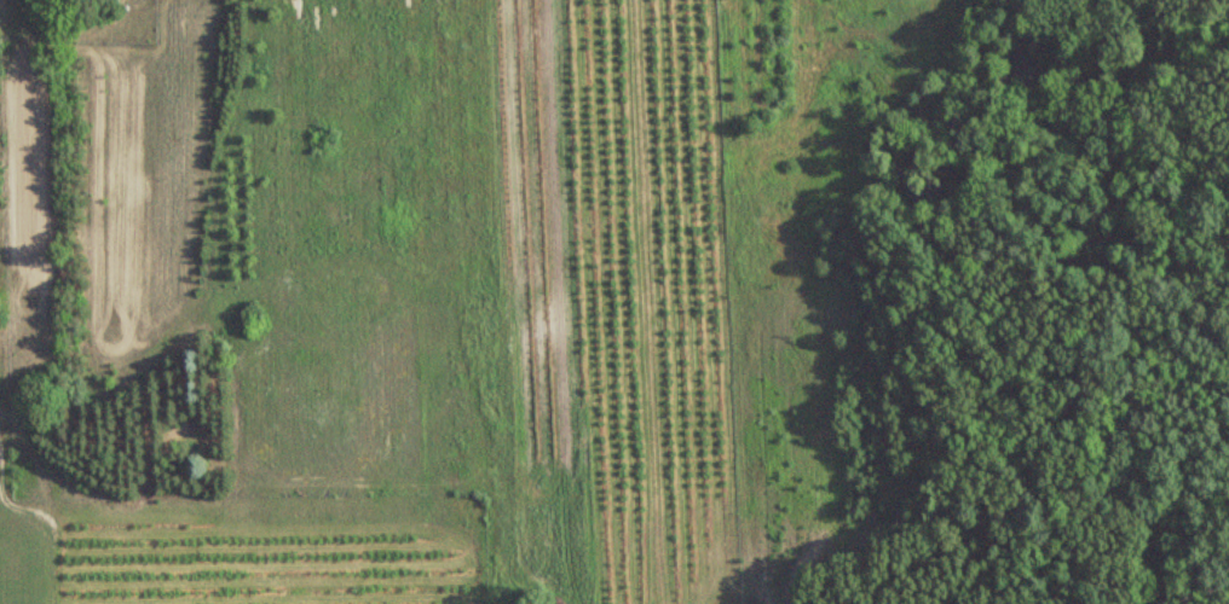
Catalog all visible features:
road: (1, 417)

